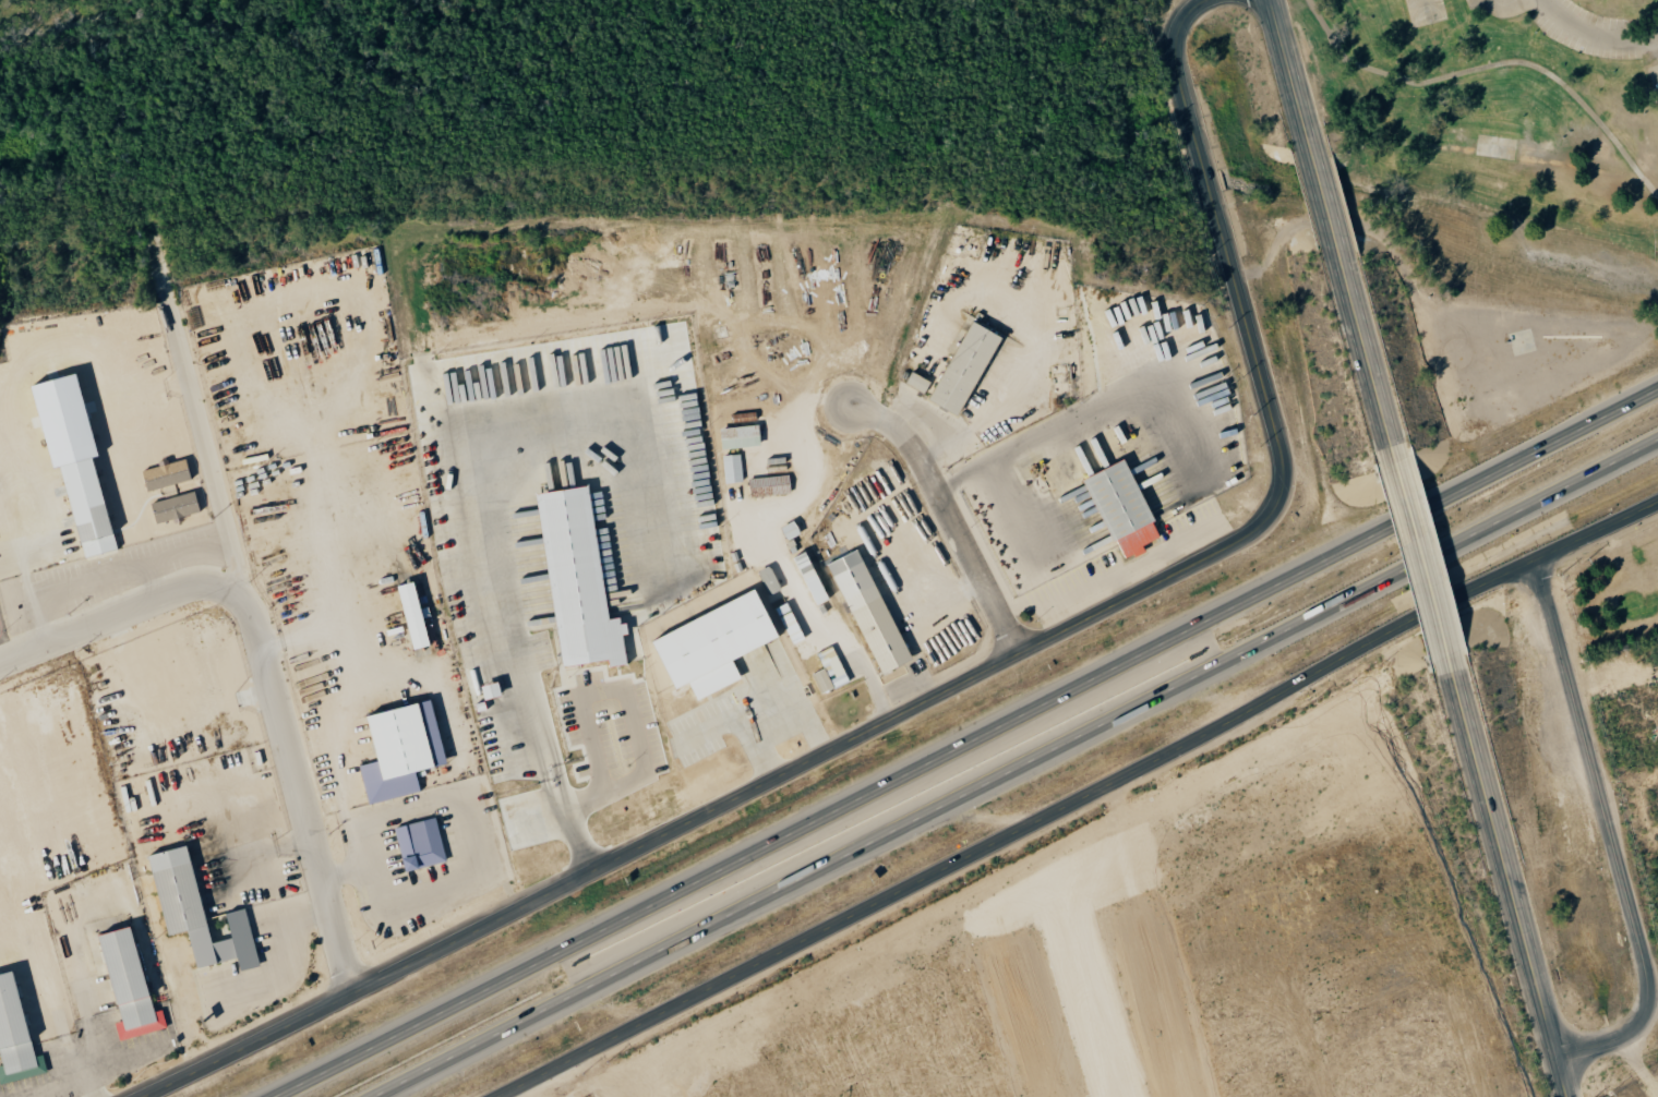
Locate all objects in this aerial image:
road: (1010, 0)
road: (73, 27)
road: (1594, 34)
road: (1291, 76)
park: (564, 125)
road: (1450, 148)
road: (1326, 202)
park: (1495, 205)
road: (1237, 277)
road: (79, 330)
road: (1370, 358)
building: (964, 367)
building: (917, 382)
road: (196, 418)
building: (740, 436)
building: (75, 458)
building: (732, 468)
building: (166, 474)
building: (175, 506)
building: (1121, 508)
road: (1427, 564)
road: (113, 570)
road: (982, 571)
building: (769, 579)
building: (812, 579)
building: (577, 580)
road: (923, 580)
park: (1617, 586)
building: (869, 612)
building: (414, 615)
road: (824, 626)
building: (714, 644)
building: (829, 672)
road: (267, 674)
road: (341, 732)
road: (964, 742)
road: (542, 744)
building: (401, 750)
road: (1011, 767)
road: (1078, 798)
road: (693, 822)
road: (1613, 835)
building: (419, 842)
road: (1506, 860)
building: (197, 913)
building: (130, 986)
building: (15, 1036)
road: (1642, 1061)
road: (1564, 1077)

